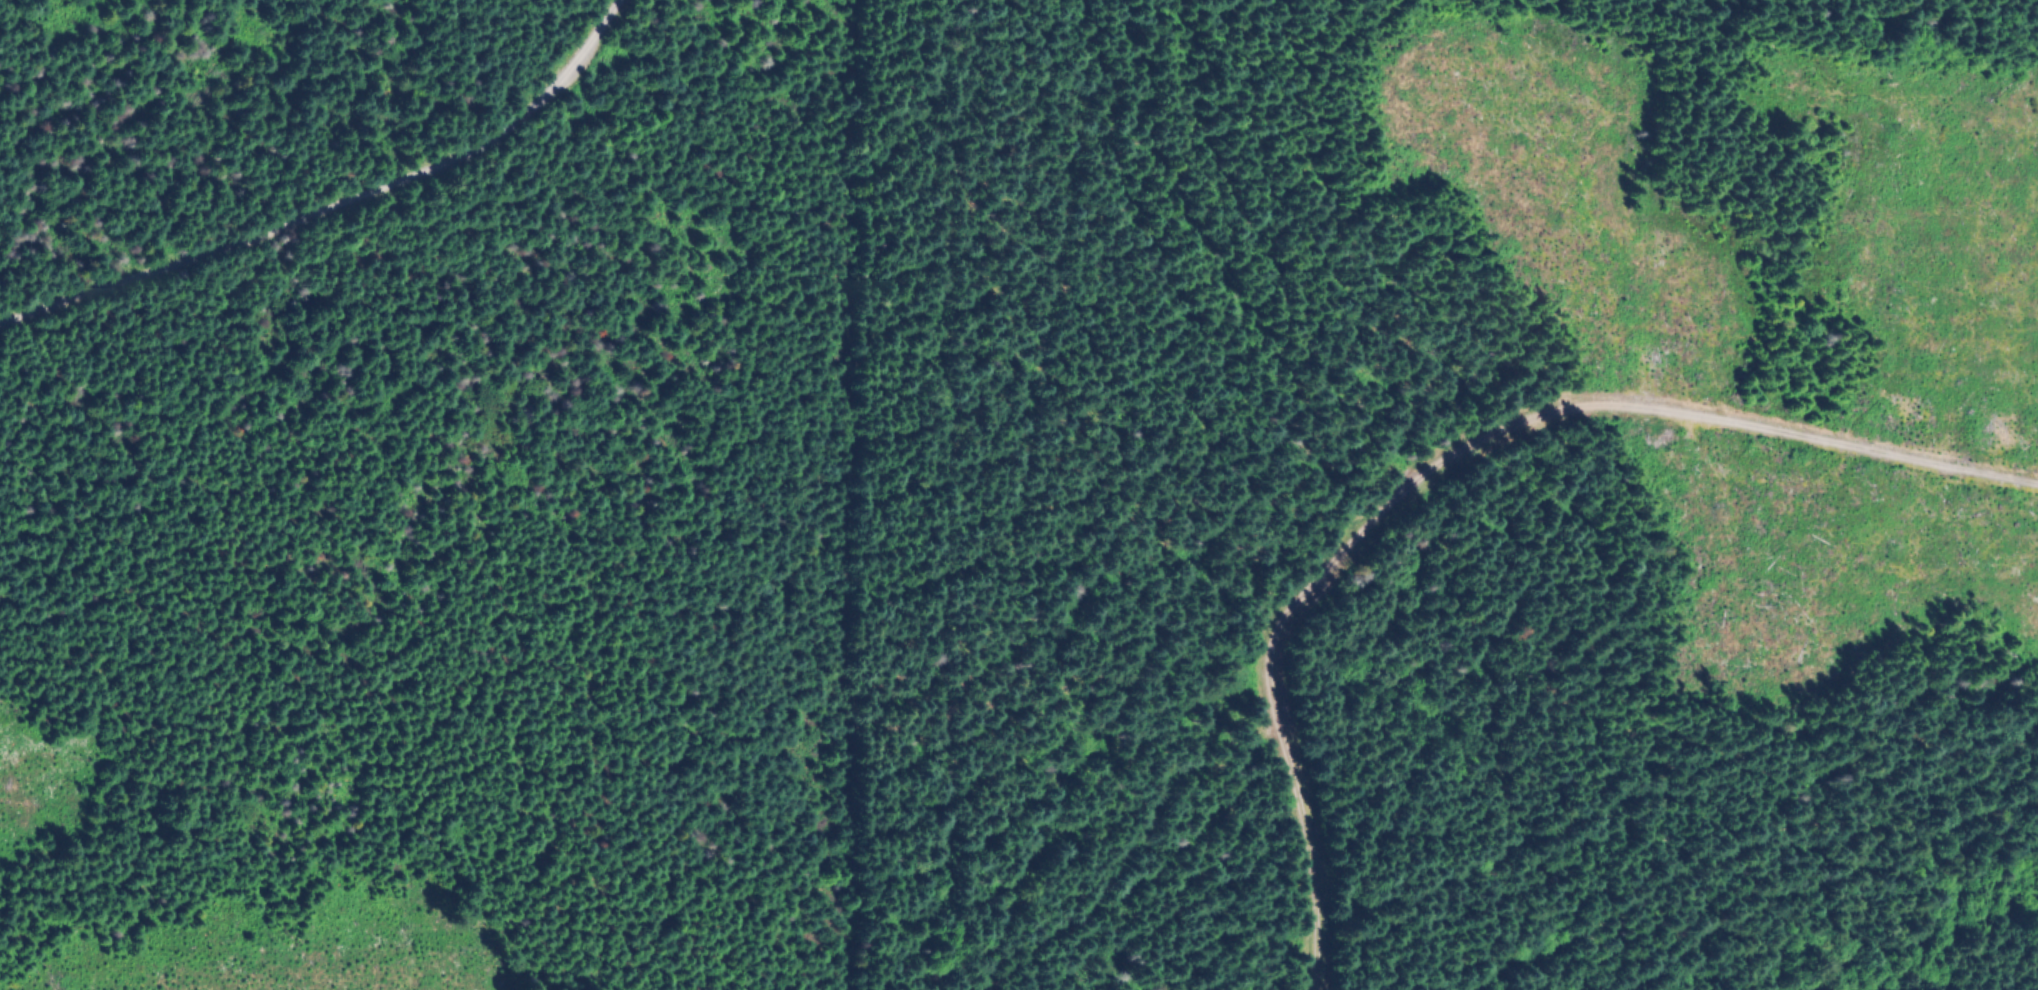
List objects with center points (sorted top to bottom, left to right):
road: (337, 206)
road: (1444, 456)

